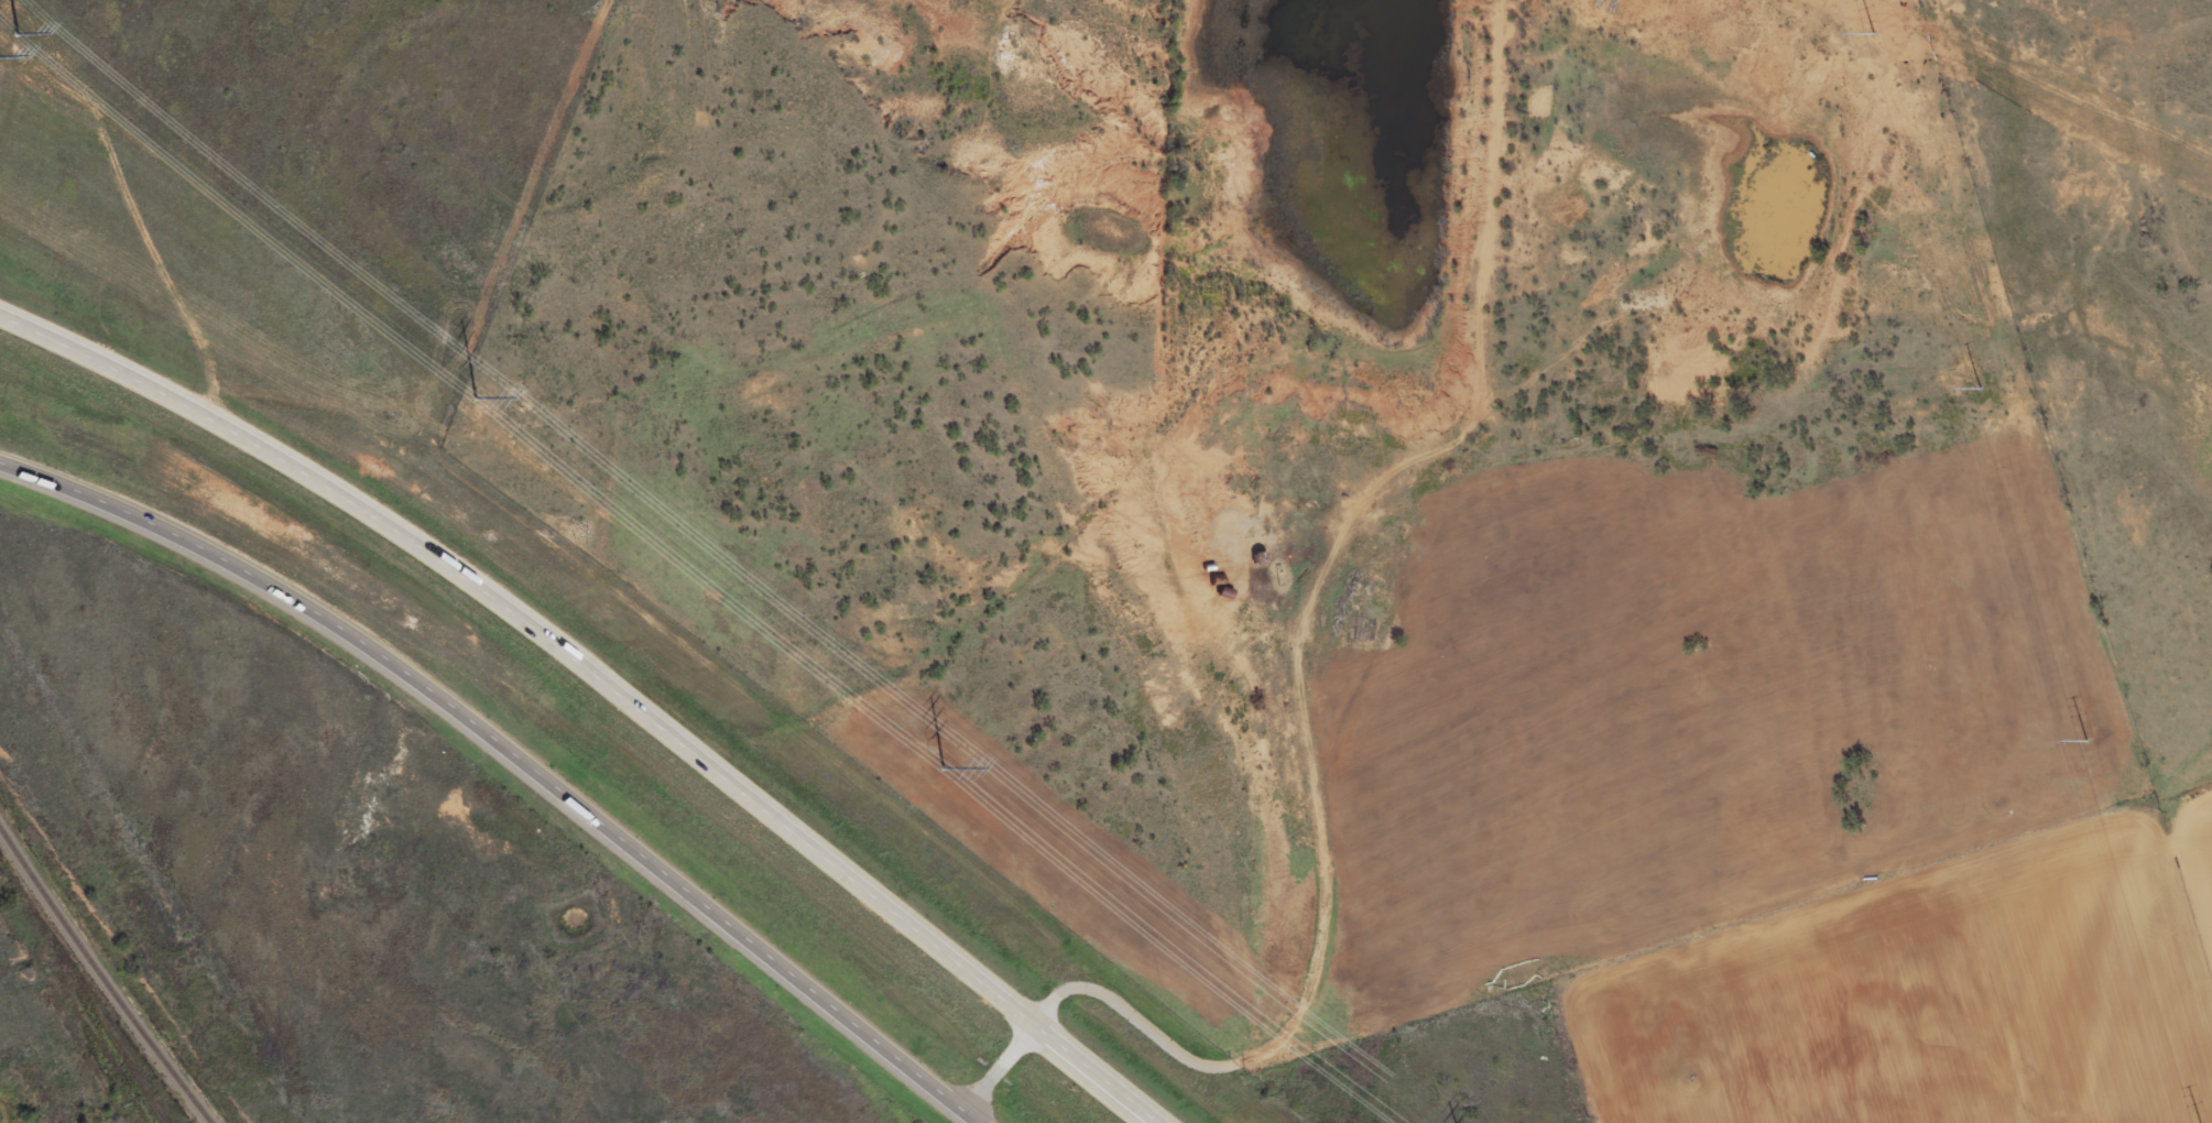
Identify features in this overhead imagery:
power tower: (1874, 31)
power tower: (10, 43)
power tower: (1981, 386)
power tower: (477, 391)
road: (603, 682)
power tower: (2086, 738)
road: (515, 754)
power tower: (940, 765)
road: (1322, 896)
railway: (102, 977)
road: (1000, 1067)

